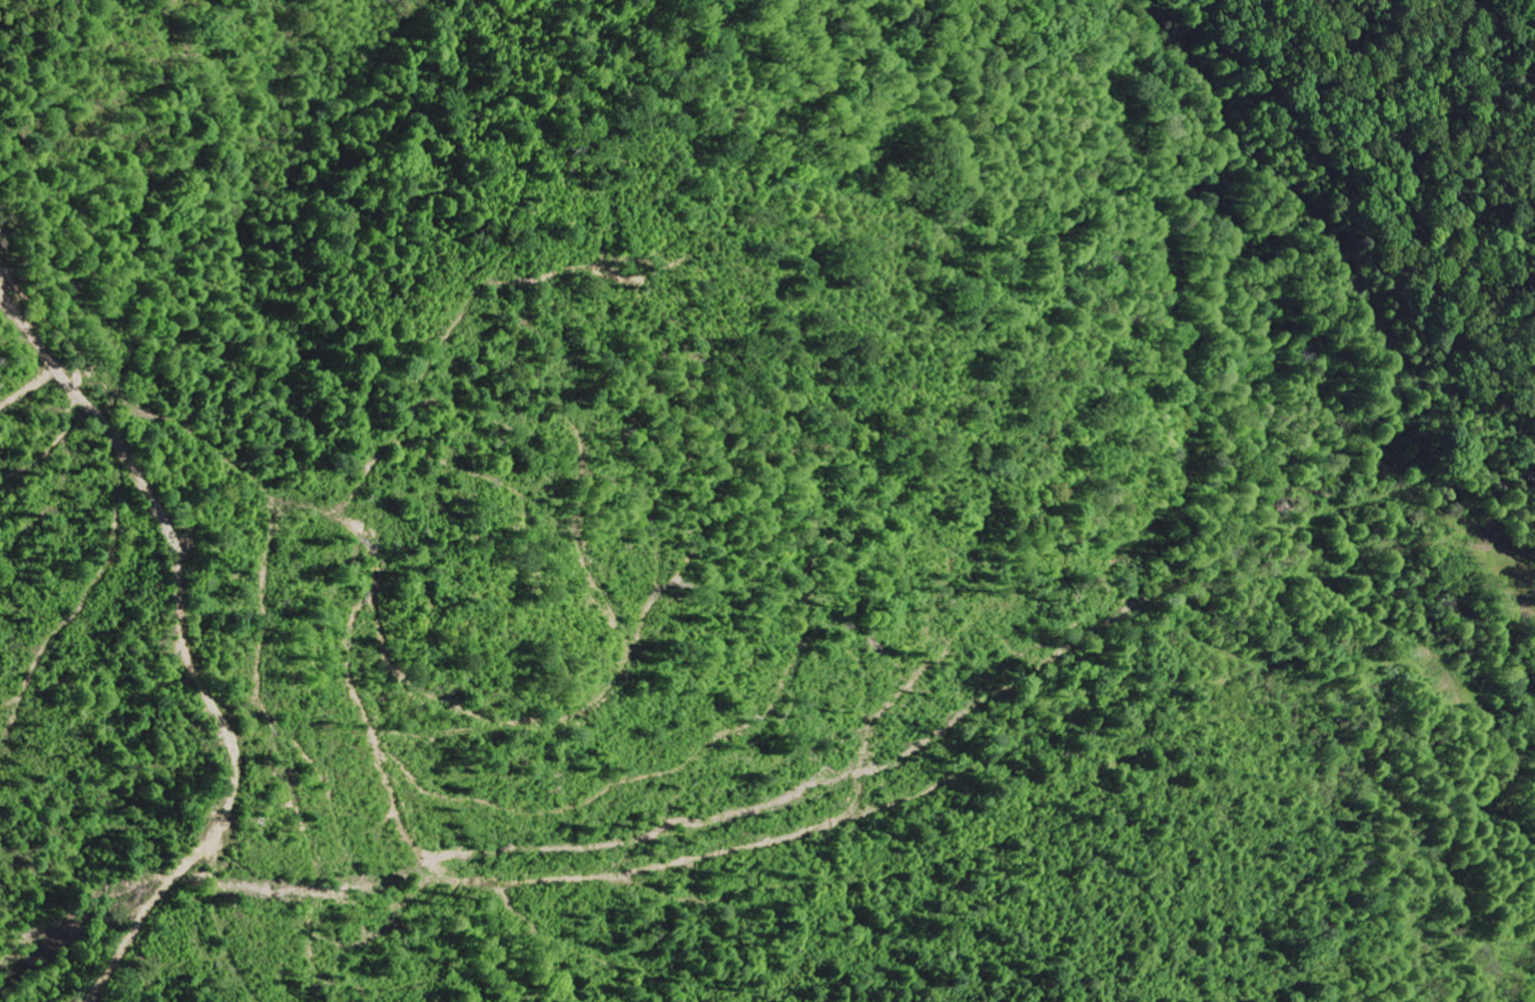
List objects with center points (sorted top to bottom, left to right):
road: (1339, 260)

